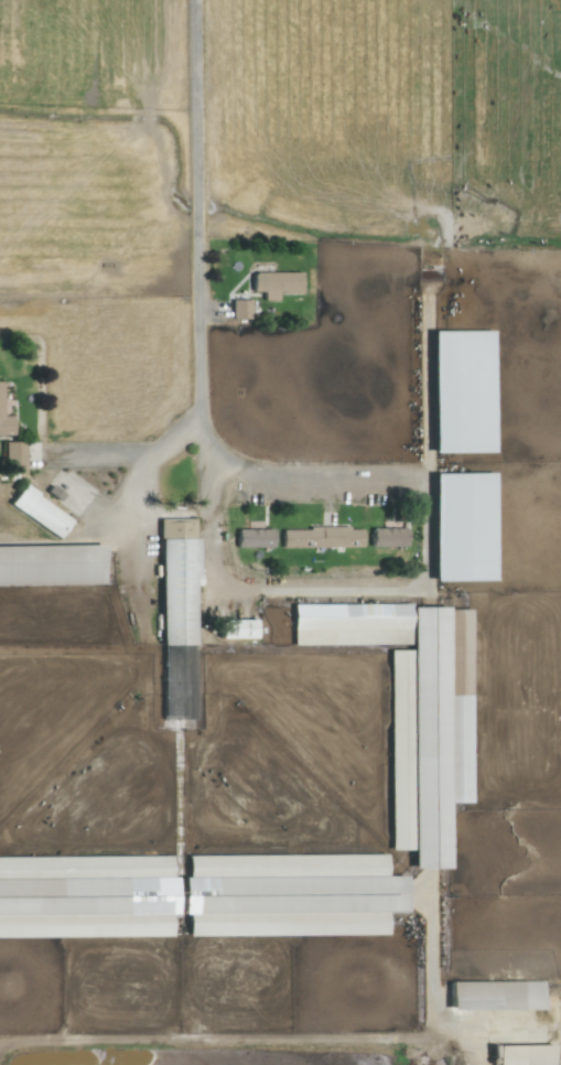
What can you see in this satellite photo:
road: (206, 152)
building: (274, 283)
building: (239, 310)
building: (461, 392)
building: (4, 423)
road: (180, 434)
building: (13, 456)
road: (278, 472)
building: (39, 513)
building: (462, 528)
building: (321, 538)
building: (388, 538)
building: (252, 539)
building: (51, 566)
building: (175, 583)
building: (235, 630)
building: (413, 709)
building: (288, 896)
building: (86, 897)
road: (434, 985)
building: (495, 997)
building: (524, 1055)
wastewater plant: (337, 1063)

